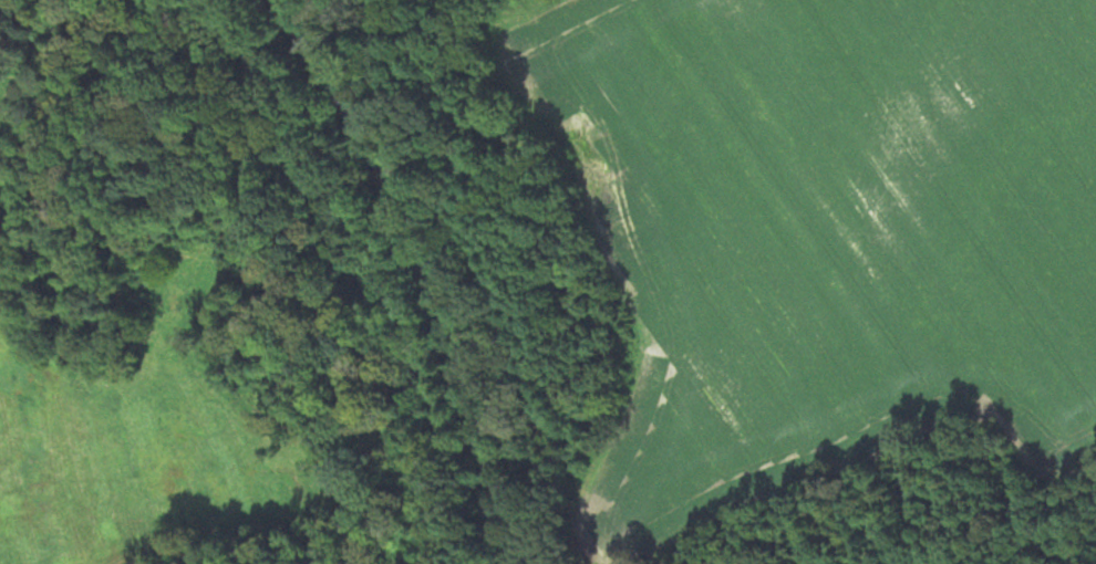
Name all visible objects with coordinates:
railway: (433, 273)

